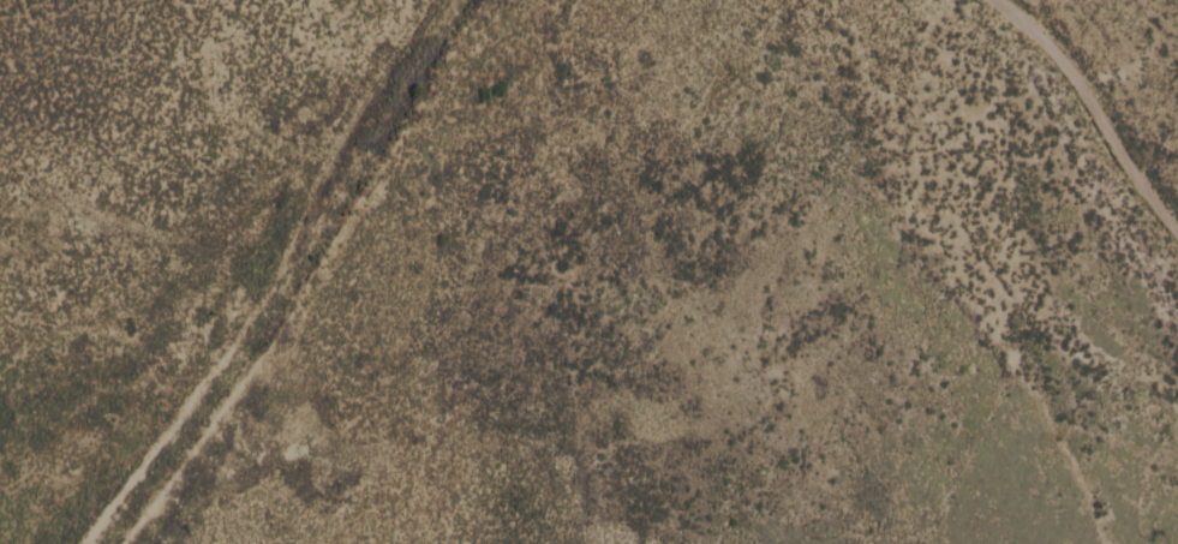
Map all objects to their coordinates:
road: (1087, 108)

